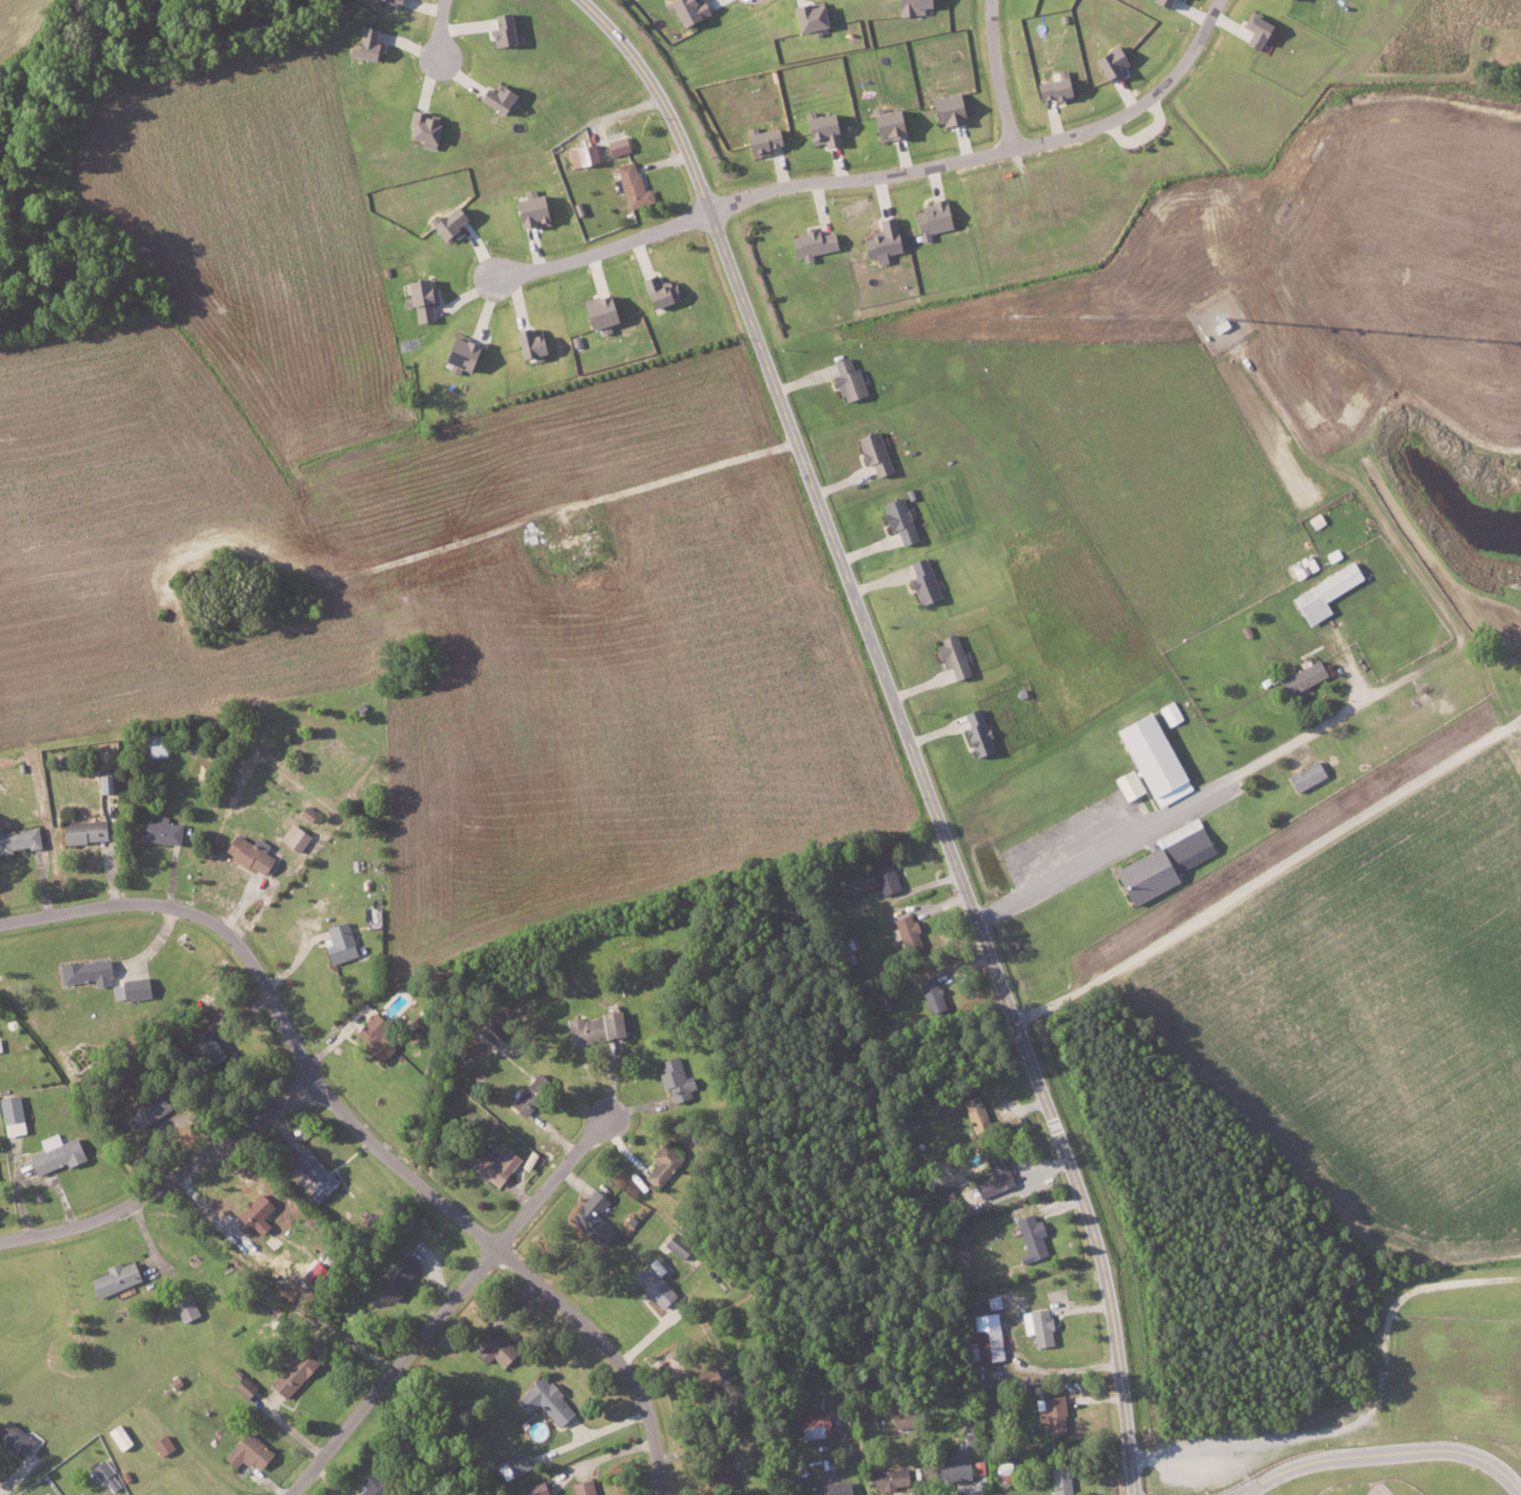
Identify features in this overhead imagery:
building: (389, 2)
building: (1159, 3)
building: (910, 6)
building: (686, 10)
building: (805, 16)
building: (502, 29)
road: (433, 30)
building: (1255, 32)
building: (364, 45)
building: (1109, 62)
road: (998, 75)
building: (1053, 87)
building: (494, 97)
building: (947, 110)
building: (886, 124)
building: (423, 128)
building: (820, 129)
building: (759, 141)
building: (588, 153)
road: (993, 153)
building: (632, 185)
building: (529, 210)
building: (932, 218)
building: (446, 223)
building: (881, 240)
building: (810, 243)
road: (601, 252)
building: (657, 291)
building: (419, 297)
building: (597, 313)
building: (1219, 326)
building: (527, 344)
building: (457, 355)
building: (846, 380)
building: (871, 452)
road: (560, 513)
building: (897, 517)
building: (1315, 521)
building: (922, 579)
building: (1324, 591)
building: (949, 654)
building: (1519, 666)
building: (1301, 677)
road: (903, 731)
building: (975, 731)
building: (149, 746)
building: (1150, 757)
building: (1305, 774)
building: (105, 781)
building: (1126, 783)
road: (1217, 783)
building: (306, 811)
building: (81, 830)
building: (159, 830)
building: (293, 836)
building: (17, 838)
building: (246, 851)
building: (883, 872)
road: (1269, 878)
road: (83, 904)
building: (906, 931)
building: (338, 942)
building: (84, 970)
building: (129, 987)
building: (930, 993)
building: (592, 1026)
building: (367, 1030)
building: (0, 1046)
building: (204, 1047)
building: (674, 1078)
building: (521, 1101)
building: (974, 1110)
building: (11, 1114)
building: (138, 1116)
building: (53, 1152)
building: (488, 1162)
building: (660, 1163)
building: (313, 1173)
building: (993, 1173)
road: (167, 1180)
road: (429, 1189)
building: (591, 1216)
building: (241, 1221)
building: (1030, 1236)
building: (399, 1276)
building: (113, 1277)
building: (652, 1282)
building: (993, 1301)
road: (448, 1303)
building: (184, 1307)
building: (1036, 1325)
building: (983, 1338)
building: (491, 1344)
building: (291, 1372)
building: (699, 1378)
building: (242, 1385)
building: (542, 1399)
building: (1052, 1413)
building: (895, 1417)
building: (812, 1425)
building: (117, 1436)
building: (13, 1437)
building: (161, 1443)
road: (1379, 1448)
building: (247, 1450)
building: (516, 1463)
building: (717, 1464)
building: (978, 1466)
building: (951, 1470)
building: (105, 1474)
building: (888, 1478)
building: (1059, 1479)
building: (582, 1487)
building: (365, 1488)
building: (833, 1488)
building: (534, 1489)
building: (79, 1494)

